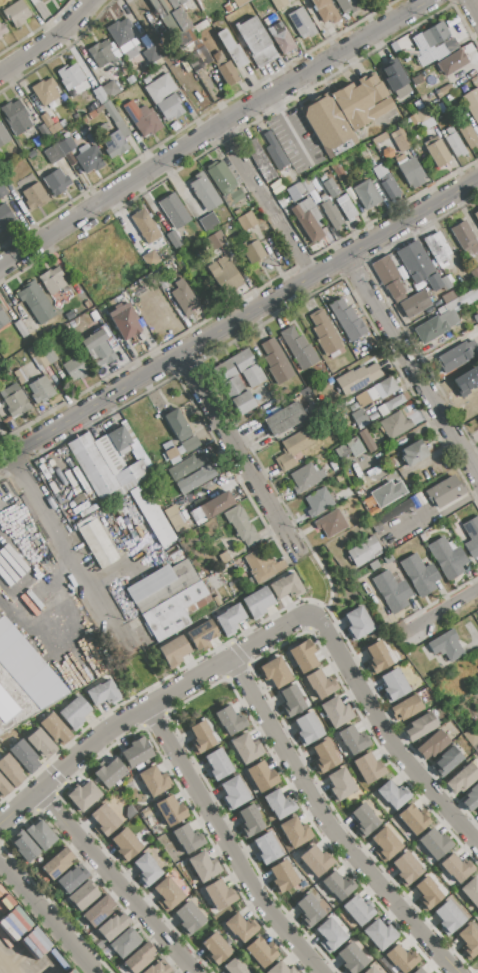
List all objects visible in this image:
building: (41, 0)
building: (176, 2)
building: (240, 3)
building: (279, 3)
building: (346, 5)
road: (472, 8)
building: (324, 9)
building: (16, 13)
building: (181, 20)
building: (301, 23)
building: (200, 25)
building: (2, 29)
building: (120, 32)
building: (430, 36)
building: (0, 37)
building: (281, 37)
road: (50, 40)
building: (256, 42)
building: (231, 49)
building: (101, 53)
building: (151, 55)
building: (431, 55)
building: (197, 58)
building: (452, 62)
building: (225, 69)
building: (70, 75)
building: (396, 78)
building: (372, 88)
building: (110, 90)
building: (443, 90)
building: (45, 92)
building: (99, 95)
building: (164, 97)
building: (472, 103)
building: (455, 108)
building: (16, 117)
building: (142, 118)
building: (425, 119)
building: (63, 123)
building: (49, 124)
building: (328, 124)
road: (213, 129)
road: (291, 130)
building: (44, 132)
building: (115, 134)
building: (467, 134)
building: (3, 137)
building: (379, 138)
building: (402, 139)
building: (36, 140)
building: (454, 142)
building: (66, 146)
building: (274, 151)
building: (387, 152)
building: (438, 152)
building: (53, 154)
building: (92, 157)
building: (260, 160)
building: (409, 170)
building: (285, 173)
building: (224, 177)
building: (385, 180)
building: (57, 181)
building: (306, 186)
building: (275, 187)
building: (330, 187)
building: (2, 190)
building: (296, 191)
building: (204, 192)
building: (367, 195)
building: (35, 196)
building: (282, 202)
road: (264, 203)
building: (346, 207)
building: (174, 211)
building: (330, 213)
building: (476, 215)
building: (5, 217)
building: (245, 219)
building: (308, 219)
building: (209, 222)
building: (146, 226)
building: (337, 234)
building: (467, 237)
building: (174, 239)
building: (216, 240)
building: (252, 248)
building: (438, 249)
building: (151, 259)
building: (419, 265)
building: (475, 274)
building: (224, 275)
building: (389, 278)
building: (52, 280)
building: (162, 281)
building: (446, 283)
building: (184, 297)
building: (448, 297)
building: (460, 301)
road: (387, 302)
building: (36, 303)
building: (415, 304)
building: (69, 315)
building: (94, 316)
building: (414, 318)
building: (3, 319)
building: (124, 320)
building: (348, 320)
road: (239, 323)
building: (76, 324)
building: (436, 326)
building: (21, 328)
building: (324, 332)
building: (100, 347)
building: (298, 348)
building: (49, 355)
building: (37, 357)
building: (454, 357)
building: (276, 361)
road: (413, 366)
building: (76, 368)
building: (19, 376)
building: (239, 378)
building: (358, 379)
building: (466, 380)
building: (382, 388)
building: (41, 390)
building: (363, 399)
building: (15, 400)
building: (396, 401)
building: (382, 410)
building: (373, 417)
building: (284, 418)
building: (359, 418)
building: (0, 421)
building: (0, 425)
building: (178, 425)
building: (394, 425)
building: (119, 440)
building: (367, 441)
building: (189, 444)
building: (293, 449)
building: (350, 449)
building: (172, 452)
building: (413, 453)
road: (240, 457)
building: (102, 464)
building: (186, 466)
building: (198, 478)
building: (303, 478)
building: (446, 490)
building: (387, 494)
road: (4, 498)
building: (318, 501)
building: (213, 506)
building: (395, 511)
building: (152, 515)
building: (174, 520)
building: (239, 523)
building: (330, 523)
building: (376, 526)
building: (472, 536)
building: (97, 543)
building: (364, 551)
road: (73, 554)
building: (224, 557)
building: (387, 558)
building: (447, 558)
building: (262, 565)
building: (374, 565)
building: (419, 574)
road: (326, 577)
building: (161, 585)
building: (287, 587)
building: (392, 591)
building: (257, 602)
building: (175, 610)
road: (447, 611)
building: (230, 619)
building: (357, 624)
building: (201, 634)
building: (446, 645)
building: (173, 651)
building: (302, 656)
building: (377, 658)
road: (226, 662)
building: (27, 667)
building: (274, 673)
building: (319, 684)
building: (393, 685)
building: (104, 693)
building: (291, 701)
park: (204, 706)
building: (6, 707)
building: (405, 708)
building: (75, 712)
building: (336, 712)
building: (229, 719)
building: (55, 728)
building: (419, 728)
building: (307, 729)
building: (472, 735)
building: (202, 736)
road: (388, 736)
building: (353, 740)
building: (40, 742)
building: (431, 745)
building: (246, 748)
building: (137, 752)
building: (24, 755)
building: (323, 757)
road: (73, 761)
building: (446, 762)
building: (218, 765)
building: (368, 768)
building: (10, 770)
building: (110, 772)
building: (261, 777)
building: (462, 779)
building: (153, 781)
building: (339, 785)
building: (4, 787)
building: (234, 792)
building: (83, 795)
building: (392, 796)
building: (471, 798)
building: (279, 804)
building: (171, 811)
building: (477, 812)
building: (145, 813)
road: (6, 818)
building: (412, 819)
building: (104, 820)
building: (363, 821)
building: (250, 822)
road: (330, 826)
building: (41, 833)
building: (295, 833)
building: (188, 839)
road: (229, 844)
building: (385, 844)
building: (434, 844)
building: (126, 845)
building: (24, 847)
building: (266, 848)
building: (316, 860)
building: (57, 863)
building: (204, 866)
building: (456, 868)
building: (405, 869)
building: (147, 870)
building: (283, 876)
building: (71, 879)
road: (118, 882)
building: (338, 886)
building: (470, 892)
building: (426, 893)
building: (168, 894)
building: (220, 894)
building: (83, 895)
building: (308, 910)
building: (358, 910)
building: (98, 911)
road: (46, 917)
building: (189, 917)
building: (447, 918)
building: (113, 926)
building: (240, 927)
building: (330, 934)
building: (380, 934)
building: (468, 941)
building: (125, 943)
building: (217, 948)
building: (260, 952)
building: (139, 958)
building: (352, 958)
building: (401, 958)
road: (10, 959)
building: (234, 966)
building: (158, 968)
building: (280, 968)
building: (371, 970)
building: (418, 971)
building: (430, 972)

